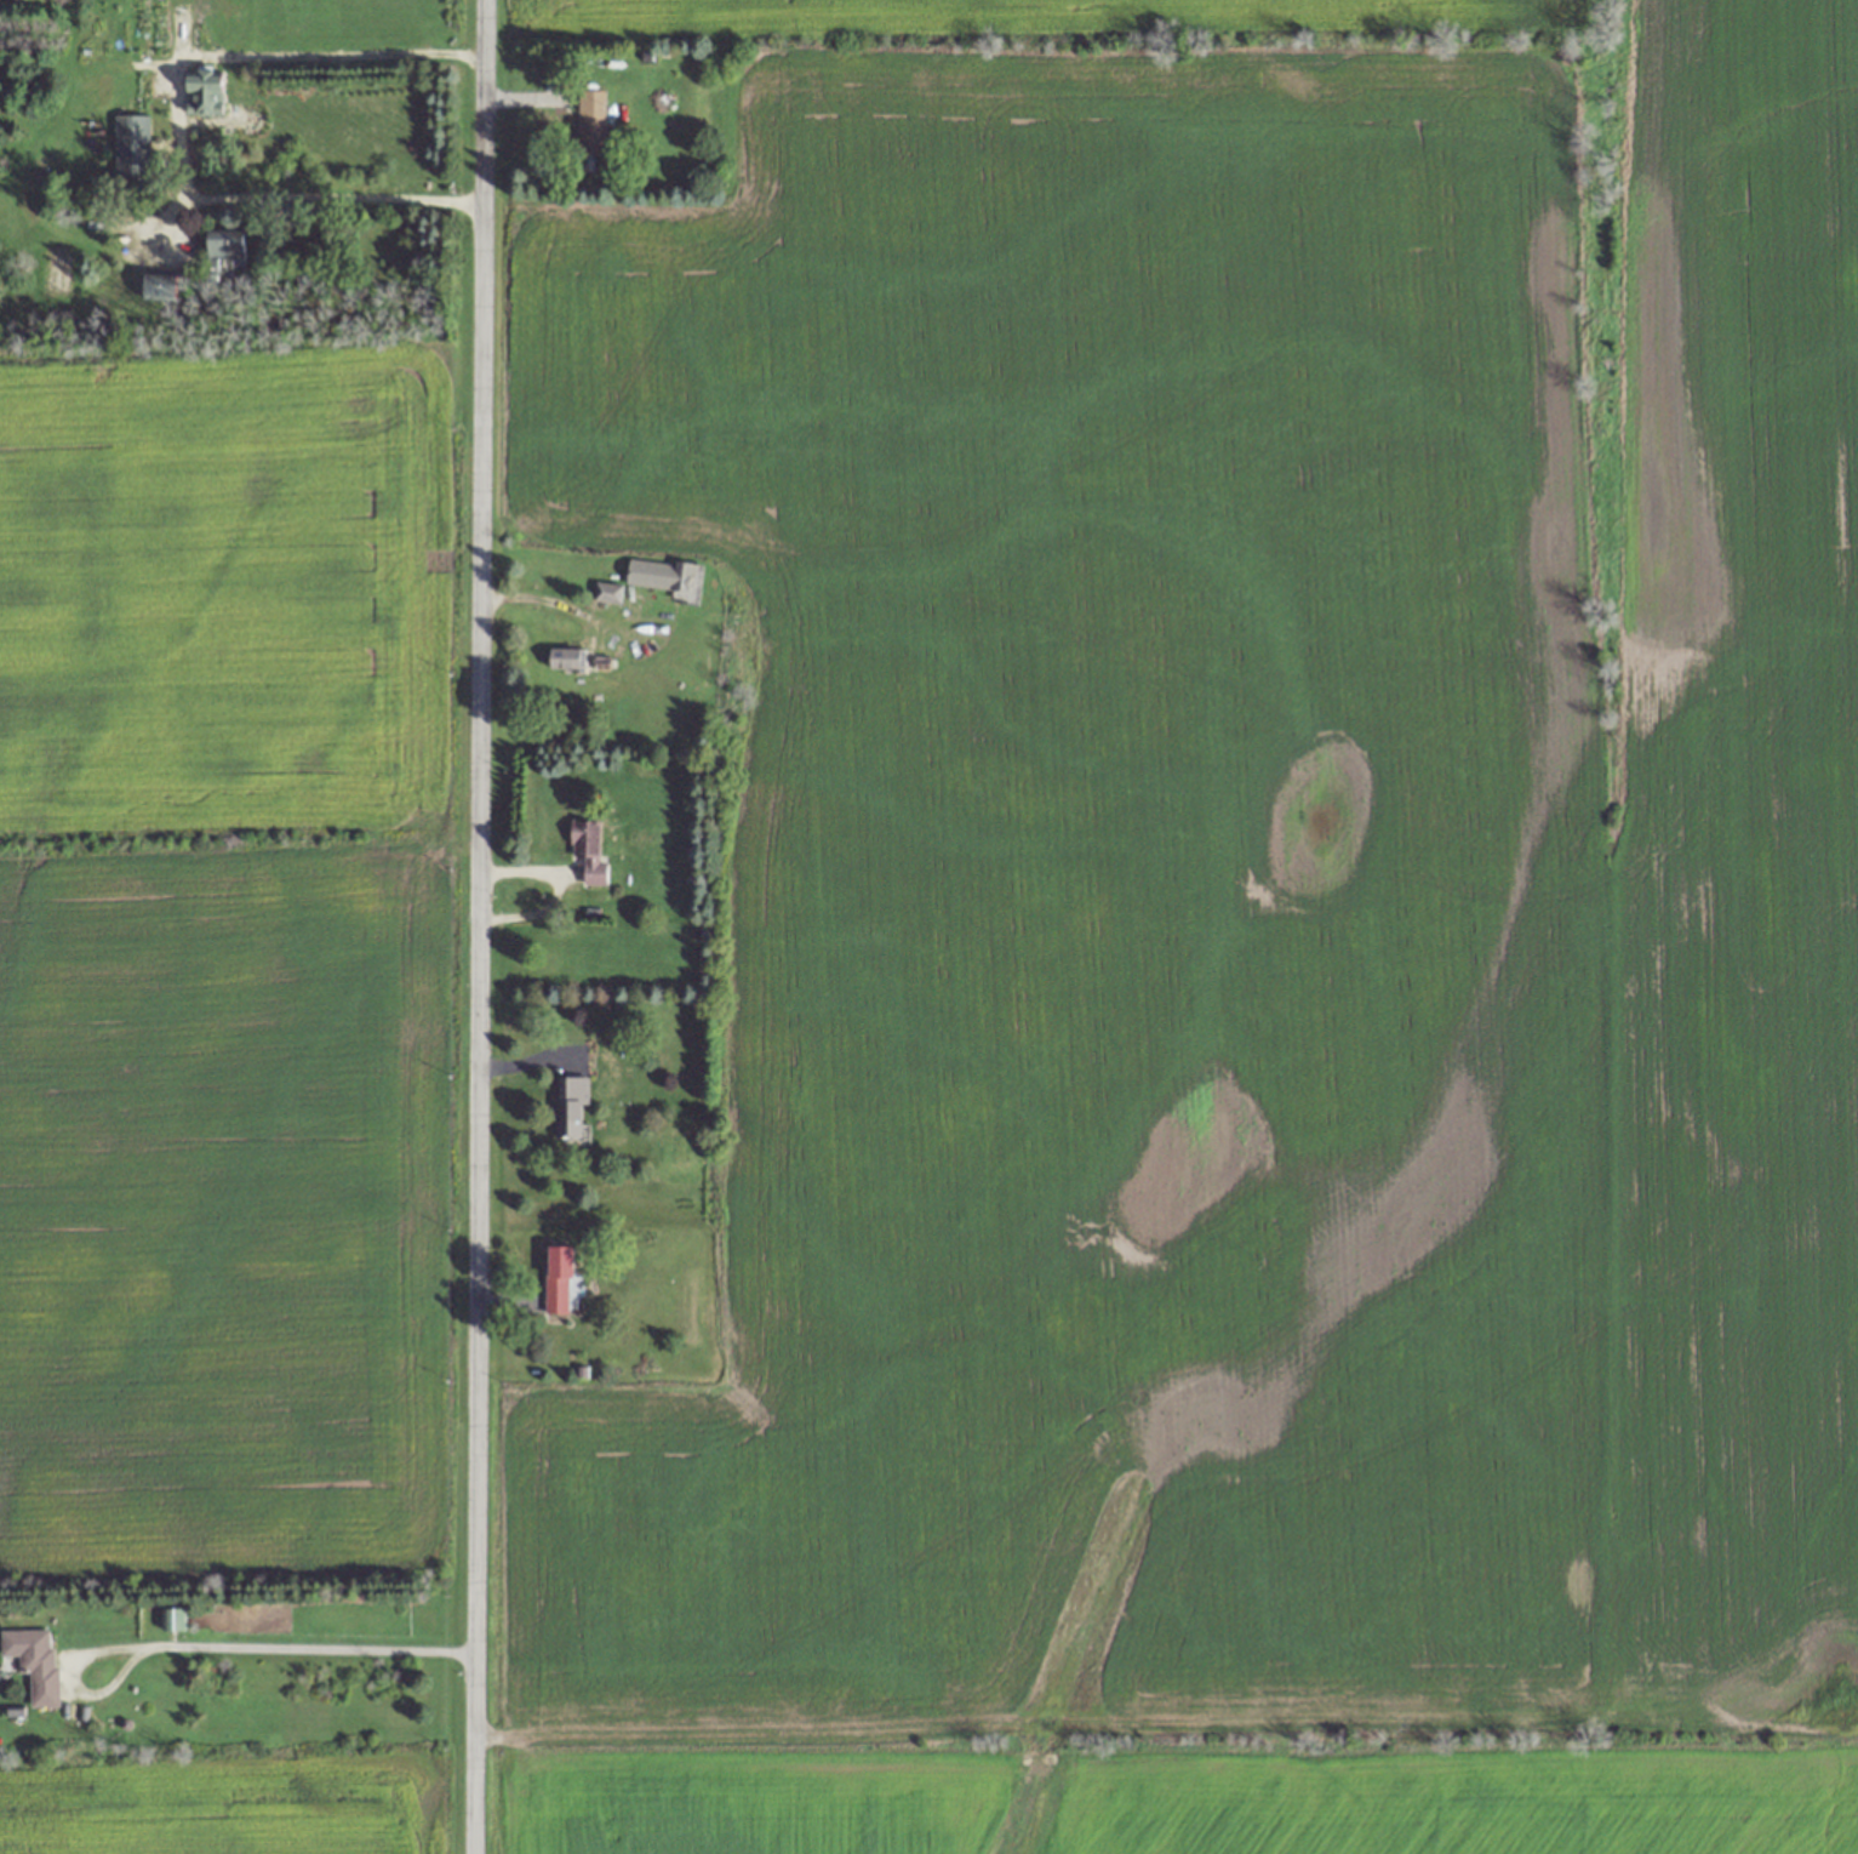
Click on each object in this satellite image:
road: (177, 118)
building: (590, 122)
building: (130, 147)
building: (224, 247)
building: (158, 287)
building: (664, 577)
building: (566, 658)
building: (588, 850)
road: (475, 926)
crop: (1227, 939)
crop: (233, 954)
building: (570, 1105)
building: (558, 1278)
road: (213, 1644)
building: (33, 1660)
road: (1165, 1719)
crop: (234, 1807)
building: (1477, 1843)

